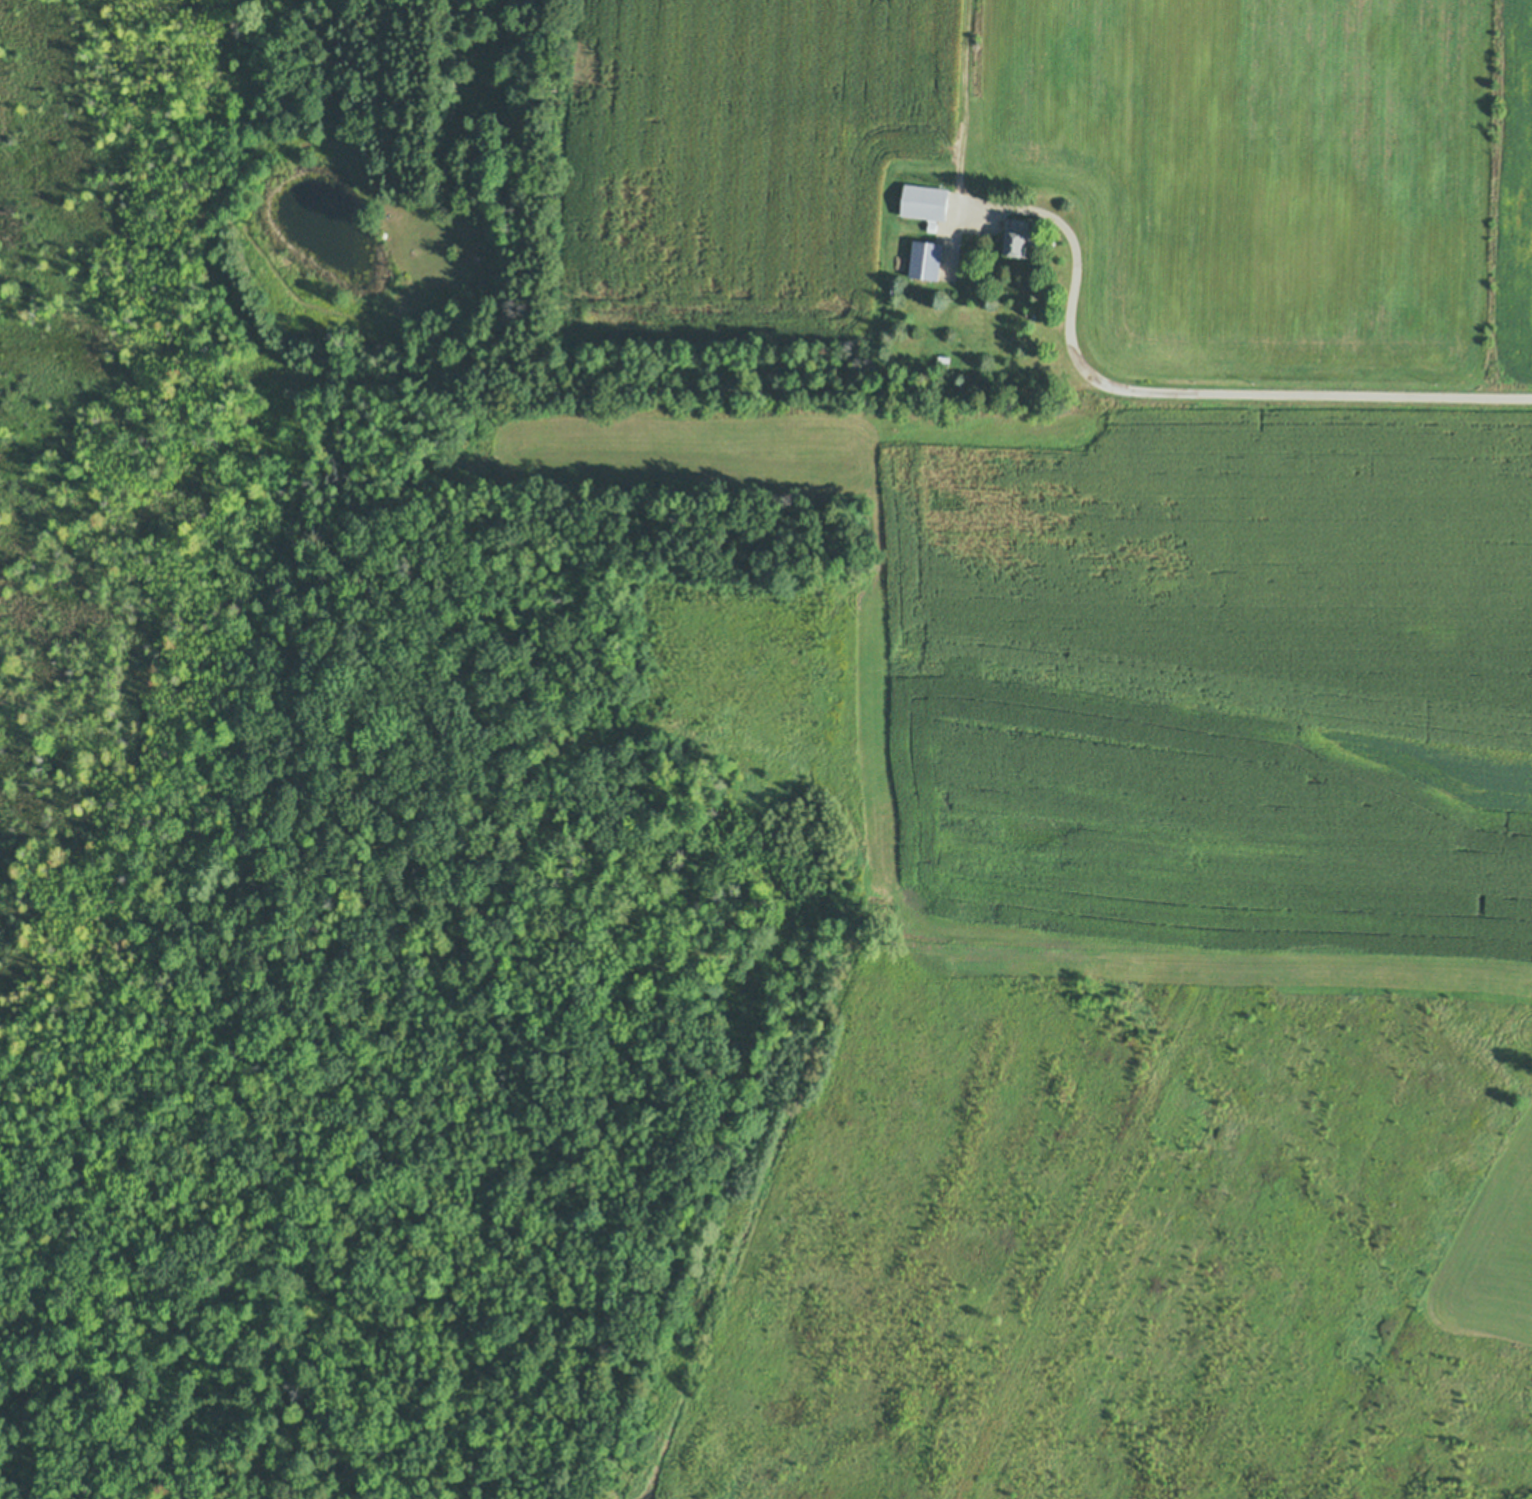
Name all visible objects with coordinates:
building: (928, 140)
crop: (1073, 172)
building: (488, 177)
building: (925, 199)
building: (497, 221)
building: (932, 225)
building: (1020, 232)
building: (926, 257)
building: (895, 288)
road: (1251, 394)
crop: (1230, 692)

